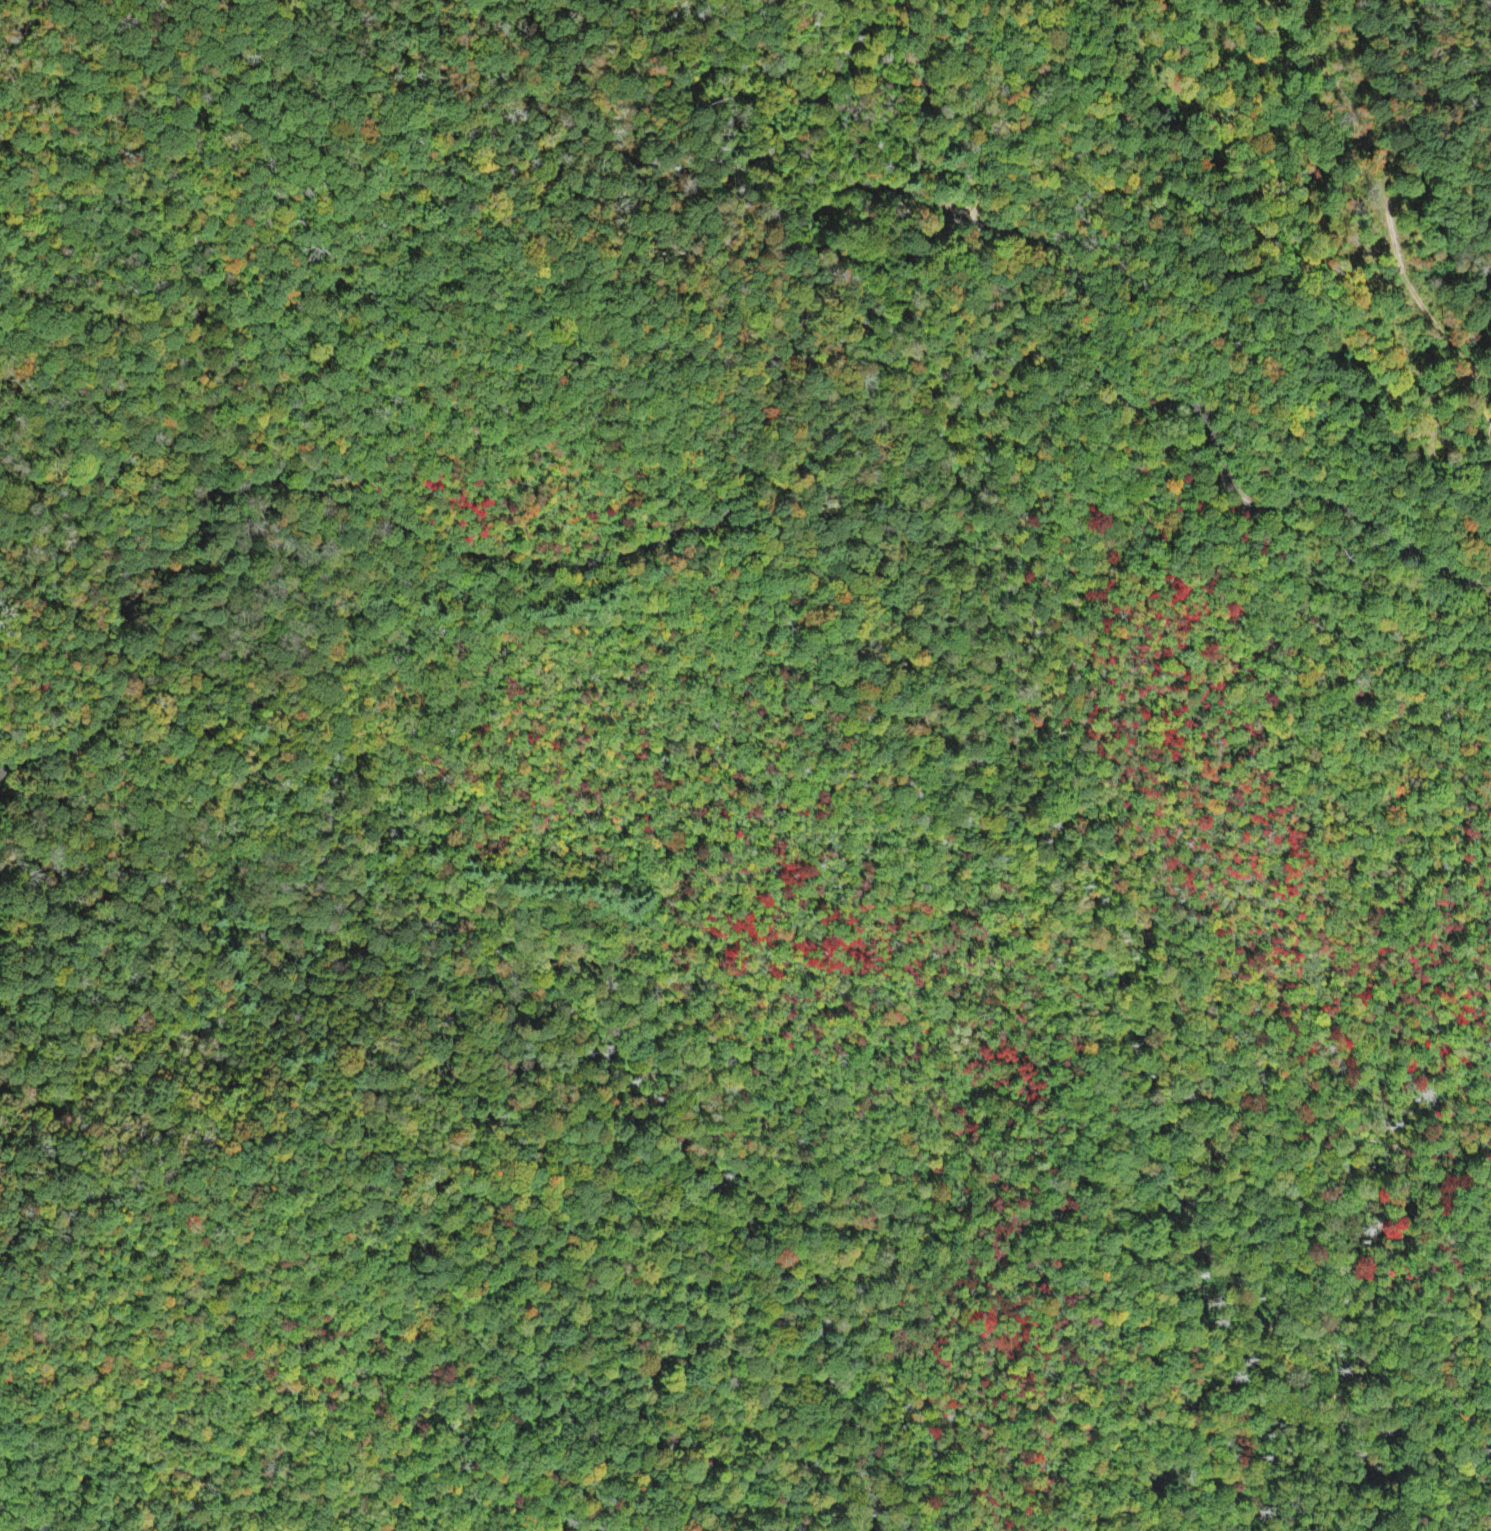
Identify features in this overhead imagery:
road: (1204, 414)
road: (506, 562)
road: (13, 1195)

